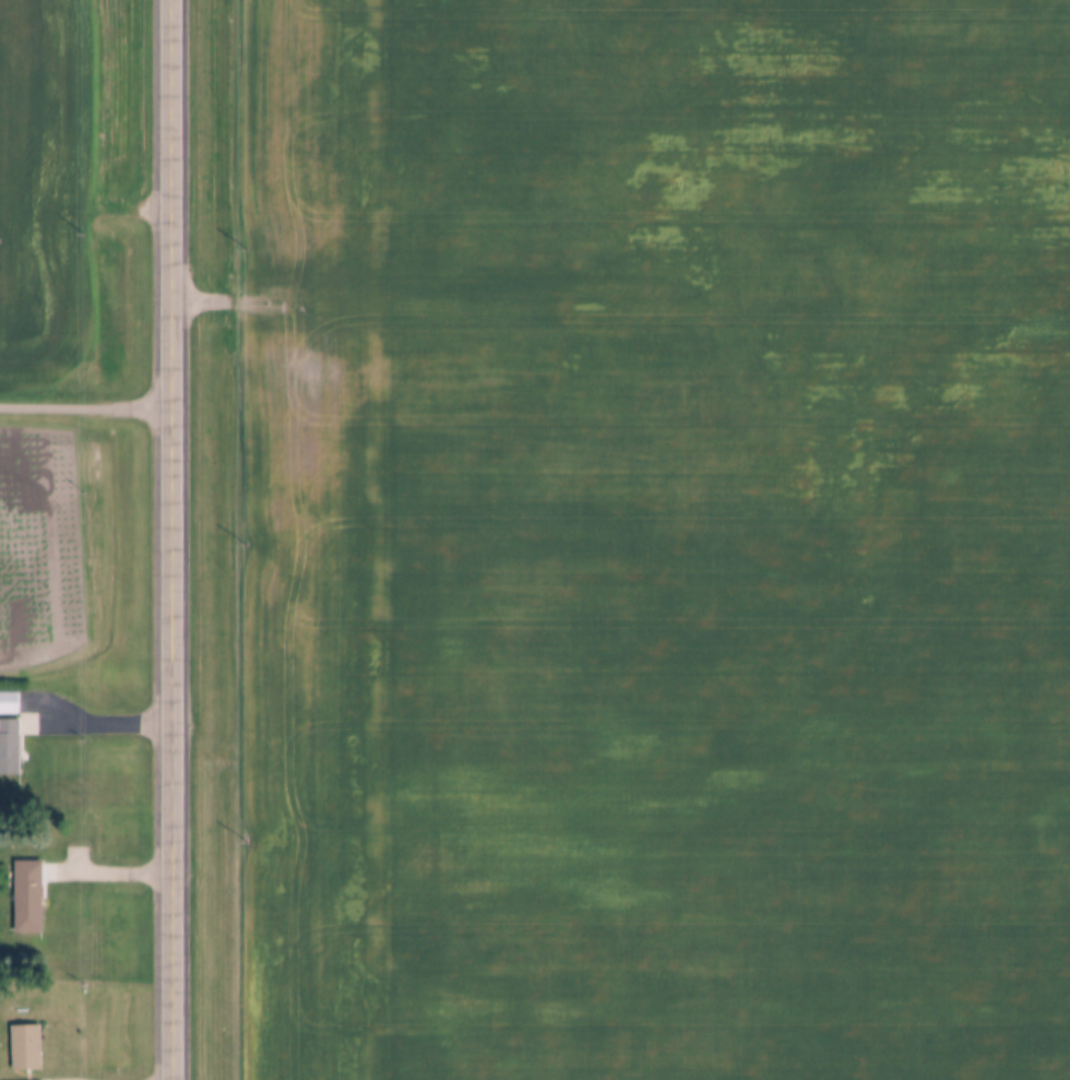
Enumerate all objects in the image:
road: (85, 403)
road: (170, 539)
building: (9, 702)
road: (94, 725)
building: (10, 747)
road: (107, 876)
building: (28, 897)
building: (26, 1048)

